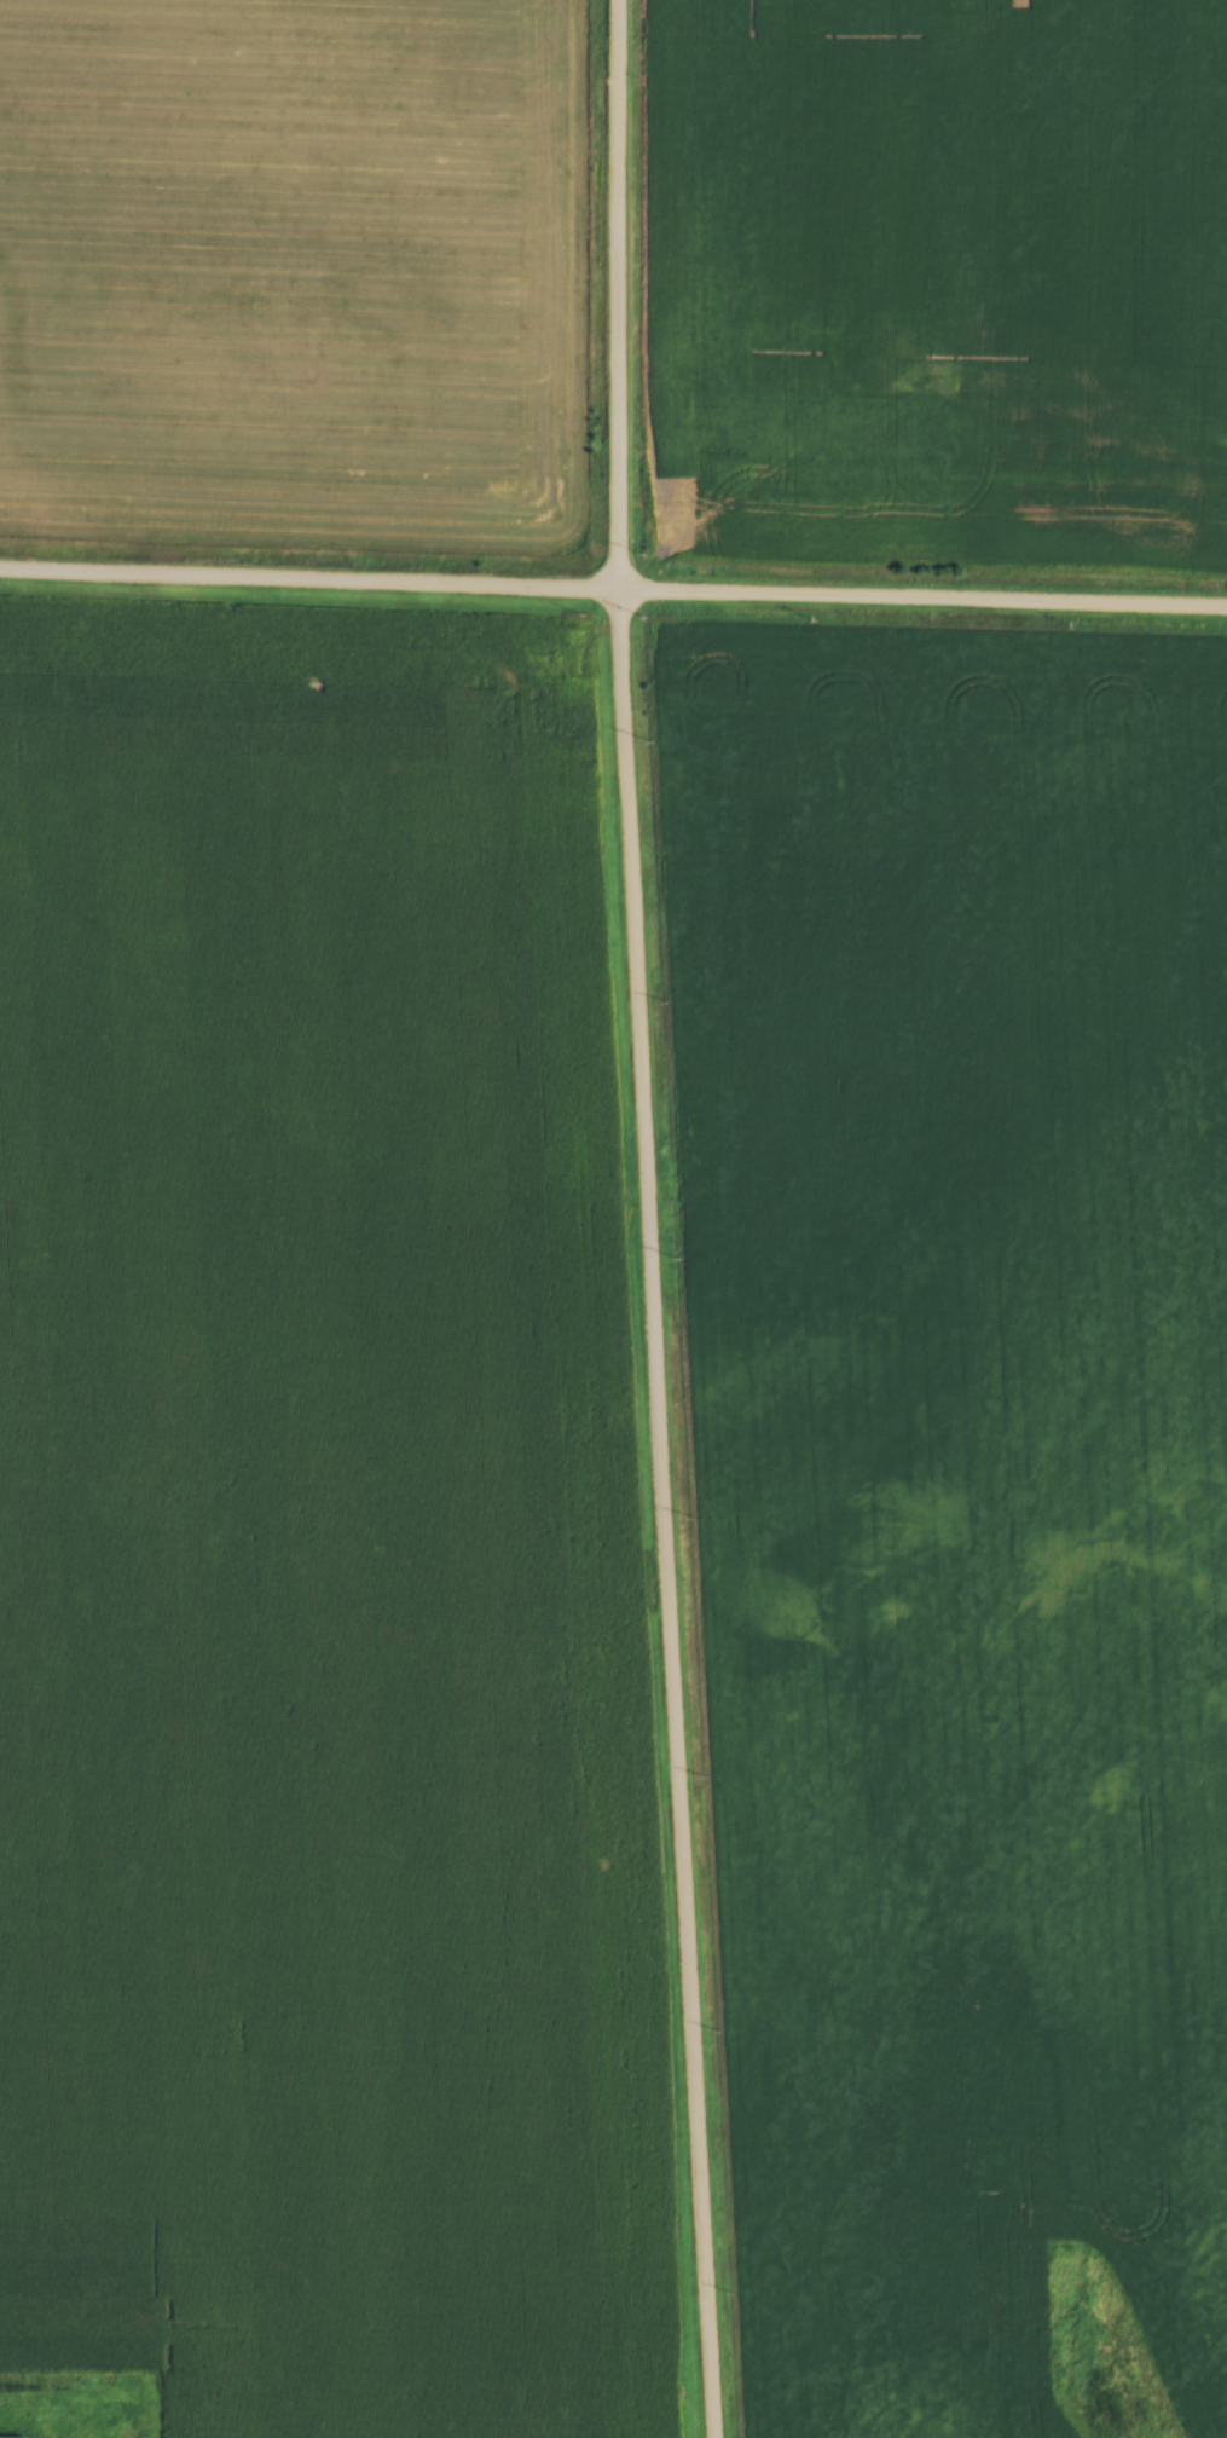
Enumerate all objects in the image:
road: (613, 588)
road: (653, 1219)

